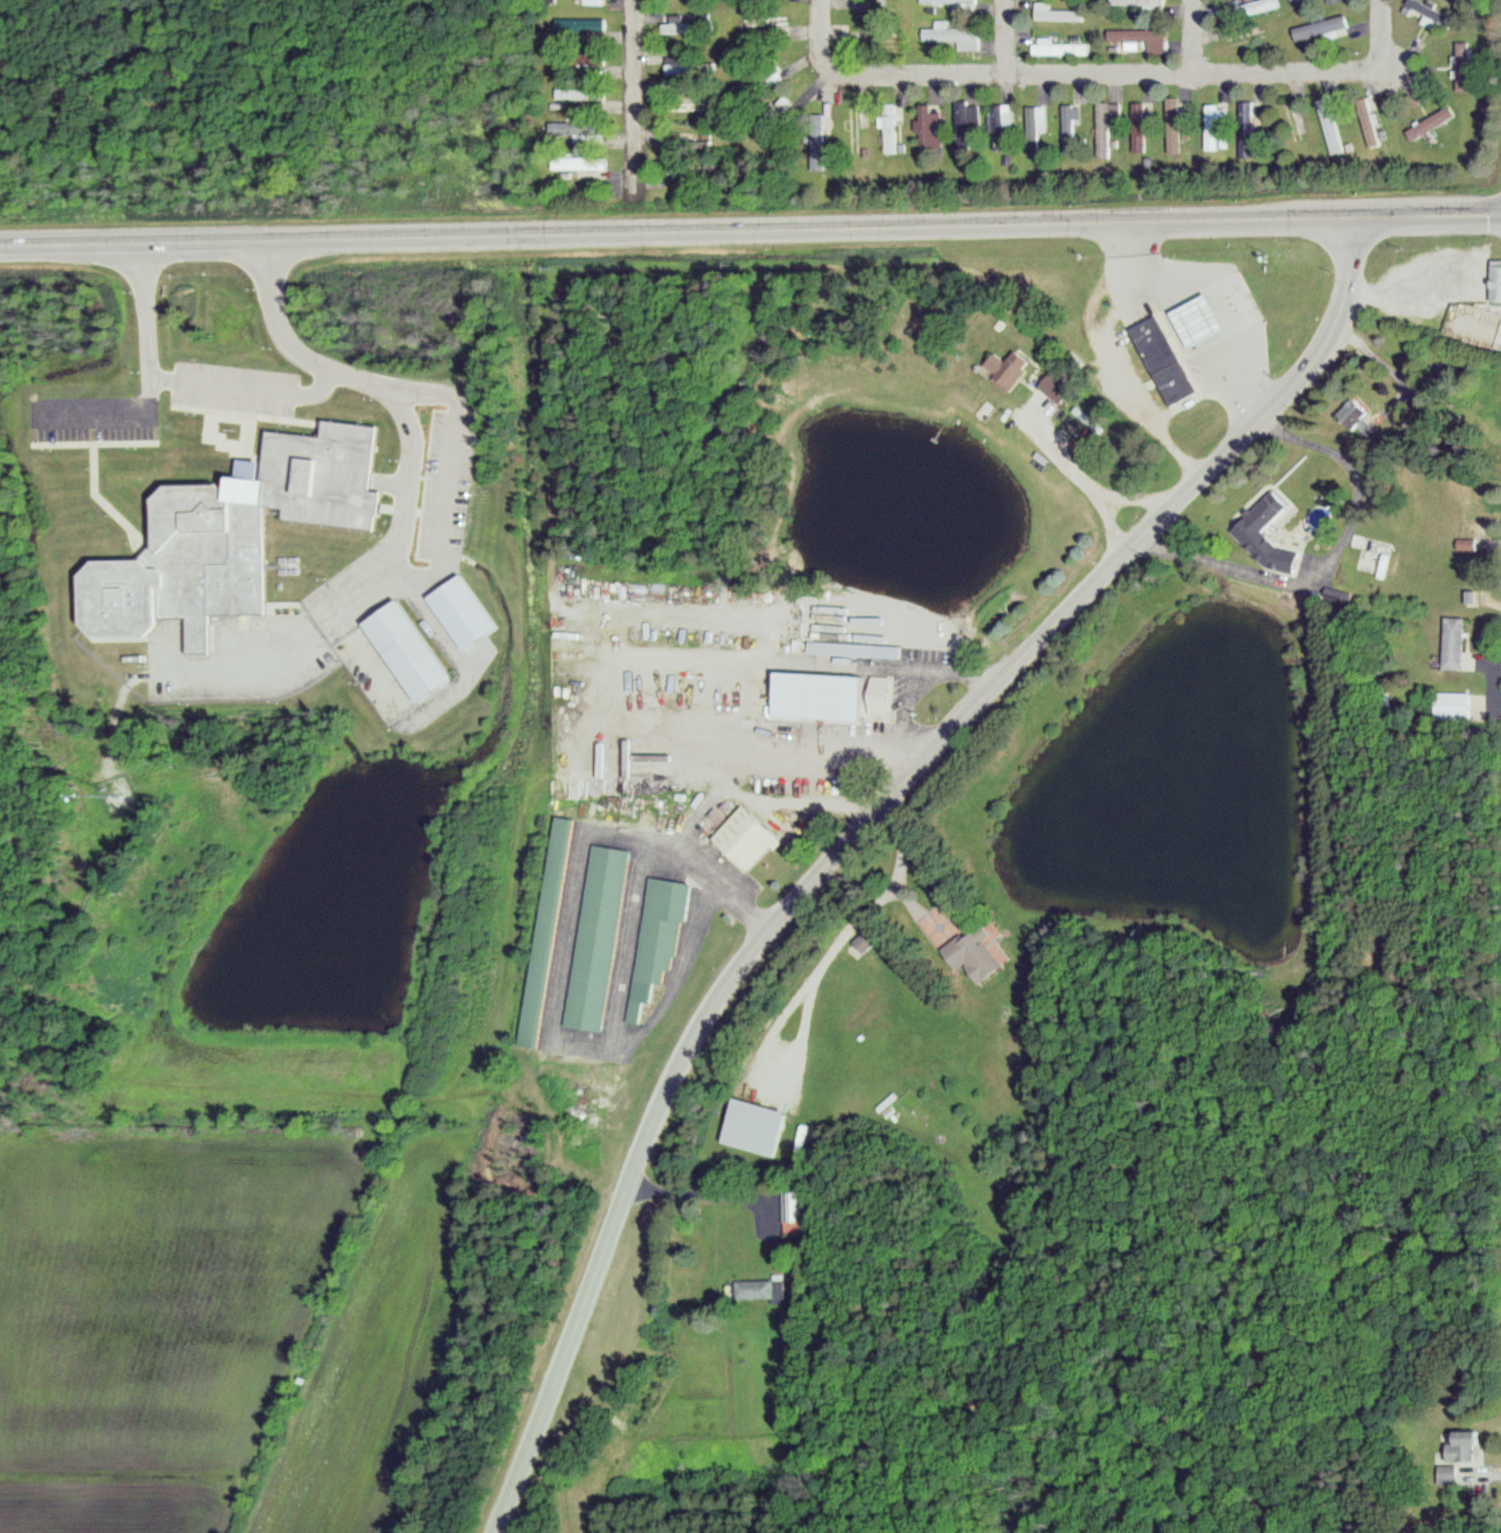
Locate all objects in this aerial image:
building: (1296, 0)
building: (1334, 1)
building: (593, 2)
building: (951, 2)
building: (1141, 3)
building: (1253, 7)
building: (1061, 13)
building: (1433, 13)
building: (582, 24)
building: (763, 24)
building: (688, 28)
building: (1325, 28)
building: (1235, 35)
road: (1004, 36)
building: (961, 37)
road: (1194, 37)
building: (1141, 41)
building: (1065, 48)
building: (690, 69)
road: (1105, 73)
building: (584, 93)
road: (632, 93)
building: (690, 105)
building: (1250, 114)
building: (1108, 118)
building: (1035, 119)
building: (1331, 122)
building: (1298, 123)
building: (1434, 123)
building: (857, 124)
building: (961, 125)
building: (1070, 125)
building: (892, 126)
building: (1000, 126)
building: (928, 127)
building: (1215, 127)
building: (1142, 128)
building: (582, 130)
building: (681, 135)
building: (819, 159)
building: (590, 163)
road: (1431, 213)
road: (680, 228)
road: (1406, 288)
road: (143, 316)
gas station: (1206, 320)
building: (1205, 321)
building: (1472, 323)
road: (1178, 328)
building: (1169, 359)
road: (248, 390)
road: (101, 412)
road: (408, 477)
road: (448, 488)
building: (1474, 510)
building: (237, 534)
building: (1263, 537)
road: (1325, 560)
building: (1459, 643)
building: (417, 649)
building: (860, 650)
road: (624, 667)
building: (863, 693)
building: (1458, 707)
road: (862, 827)
building: (751, 835)
building: (549, 930)
building: (600, 935)
building: (658, 940)
building: (979, 956)
road: (566, 960)
road: (678, 973)
building: (757, 1126)
building: (790, 1205)
building: (759, 1288)
crop: (271, 1314)
building: (1461, 1446)
building: (1446, 1474)
park: (515, 1517)

